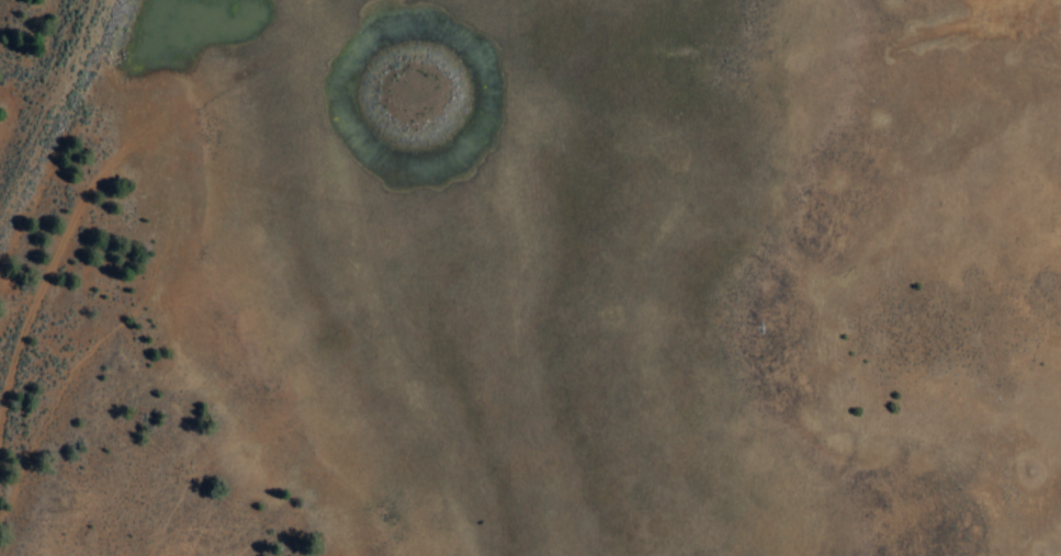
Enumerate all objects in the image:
dam: (74, 127)
road: (46, 265)

